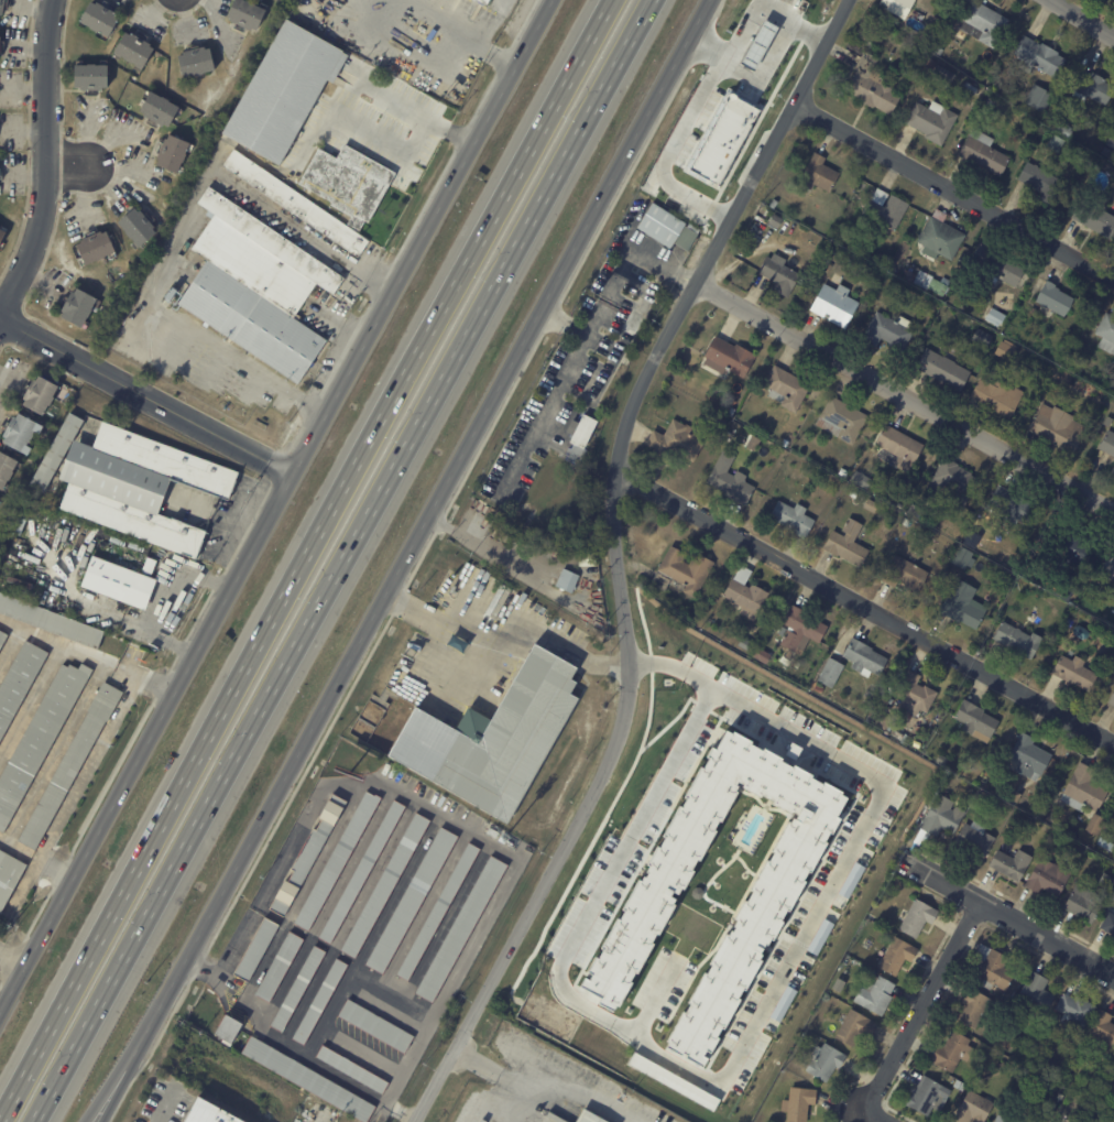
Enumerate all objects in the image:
building: (490, 2)
building: (2, 9)
building: (248, 15)
road: (447, 18)
building: (101, 19)
road: (1082, 19)
building: (895, 20)
building: (981, 23)
building: (864, 37)
road: (772, 40)
road: (409, 41)
building: (0, 45)
building: (938, 50)
building: (136, 51)
road: (493, 53)
building: (1036, 55)
building: (198, 62)
building: (929, 64)
building: (942, 73)
building: (94, 76)
building: (870, 85)
building: (1092, 87)
building: (970, 88)
building: (285, 91)
building: (1037, 97)
building: (989, 101)
building: (161, 111)
building: (931, 120)
building: (1063, 129)
road: (363, 132)
road: (681, 132)
building: (723, 139)
building: (1110, 139)
building: (1055, 143)
building: (983, 152)
building: (174, 154)
building: (1080, 155)
road: (46, 162)
road: (68, 166)
building: (817, 174)
building: (1113, 176)
building: (1040, 182)
building: (350, 184)
road: (952, 185)
building: (296, 203)
building: (773, 204)
building: (884, 209)
building: (1093, 217)
building: (772, 222)
building: (662, 226)
building: (140, 227)
road: (177, 231)
building: (2, 237)
building: (938, 237)
building: (98, 248)
building: (830, 252)
building: (1002, 269)
road: (680, 274)
building: (778, 275)
building: (864, 284)
building: (259, 288)
building: (1052, 297)
building: (834, 305)
building: (80, 307)
building: (1033, 311)
road: (364, 317)
building: (994, 317)
building: (632, 324)
road: (563, 326)
building: (887, 330)
building: (1106, 333)
building: (981, 338)
road: (581, 347)
building: (1006, 350)
building: (616, 356)
building: (725, 358)
building: (976, 359)
building: (941, 370)
road: (330, 377)
building: (1060, 378)
building: (591, 382)
building: (784, 389)
road: (904, 392)
building: (42, 395)
road: (146, 396)
building: (588, 396)
building: (995, 396)
building: (730, 411)
building: (840, 420)
building: (1106, 421)
building: (1057, 427)
building: (23, 433)
building: (673, 443)
building: (752, 443)
building: (785, 443)
building: (1107, 443)
building: (898, 447)
building: (59, 453)
building: (570, 453)
building: (7, 468)
building: (1113, 470)
building: (842, 472)
building: (730, 479)
building: (860, 479)
building: (952, 482)
building: (141, 487)
building: (852, 494)
building: (892, 495)
building: (0, 499)
building: (870, 505)
road: (275, 506)
building: (1013, 508)
building: (916, 512)
building: (791, 518)
building: (905, 521)
building: (971, 540)
building: (847, 543)
building: (1069, 547)
road: (304, 558)
building: (588, 558)
road: (623, 558)
building: (961, 558)
road: (340, 560)
road: (404, 560)
building: (1107, 568)
building: (685, 570)
building: (906, 576)
building: (566, 579)
building: (122, 581)
building: (594, 582)
building: (1067, 589)
building: (744, 598)
road: (170, 600)
building: (962, 604)
road: (865, 609)
road: (439, 618)
building: (52, 620)
building: (799, 630)
building: (1080, 632)
road: (553, 638)
building: (3, 640)
building: (1015, 640)
building: (740, 645)
building: (1113, 650)
road: (87, 654)
building: (760, 656)
building: (862, 658)
road: (478, 669)
building: (829, 673)
building: (1073, 673)
building: (20, 684)
building: (818, 688)
building: (913, 694)
building: (1111, 698)
building: (878, 707)
building: (878, 721)
building: (975, 721)
building: (492, 737)
building: (41, 740)
building: (1026, 758)
building: (940, 760)
building: (73, 764)
road: (90, 766)
building: (1082, 791)
building: (1013, 797)
building: (939, 817)
building: (1051, 824)
building: (1092, 826)
building: (1110, 826)
building: (489, 834)
building: (974, 839)
building: (1107, 841)
building: (1077, 851)
road: (36, 854)
building: (307, 854)
building: (336, 862)
building: (1009, 864)
building: (362, 872)
building: (10, 876)
building: (1047, 879)
building: (851, 880)
building: (1106, 880)
building: (386, 885)
building: (412, 900)
building: (1083, 905)
road: (1007, 909)
building: (873, 911)
building: (438, 913)
building: (915, 917)
building: (1107, 922)
road: (244, 929)
building: (462, 929)
building: (820, 936)
building: (749, 937)
building: (254, 949)
building: (895, 955)
road: (13, 958)
building: (278, 967)
building: (992, 968)
building: (297, 990)
building: (1033, 993)
road: (656, 995)
building: (874, 995)
road: (925, 1002)
building: (318, 1003)
building: (783, 1003)
building: (971, 1006)
building: (1073, 1011)
building: (375, 1025)
building: (1102, 1026)
building: (855, 1027)
building: (227, 1028)
building: (804, 1032)
road: (744, 1042)
building: (950, 1050)
building: (822, 1060)
building: (1001, 1066)
building: (352, 1069)
building: (1099, 1071)
building: (961, 1075)
road: (504, 1076)
building: (307, 1079)
building: (796, 1081)
road: (111, 1082)
building: (1046, 1085)
building: (959, 1086)
building: (922, 1092)
building: (1059, 1096)
building: (797, 1103)
road: (166, 1108)
building: (972, 1108)
building: (209, 1113)
road: (880, 1114)
building: (586, 1116)
building: (1001, 1120)

